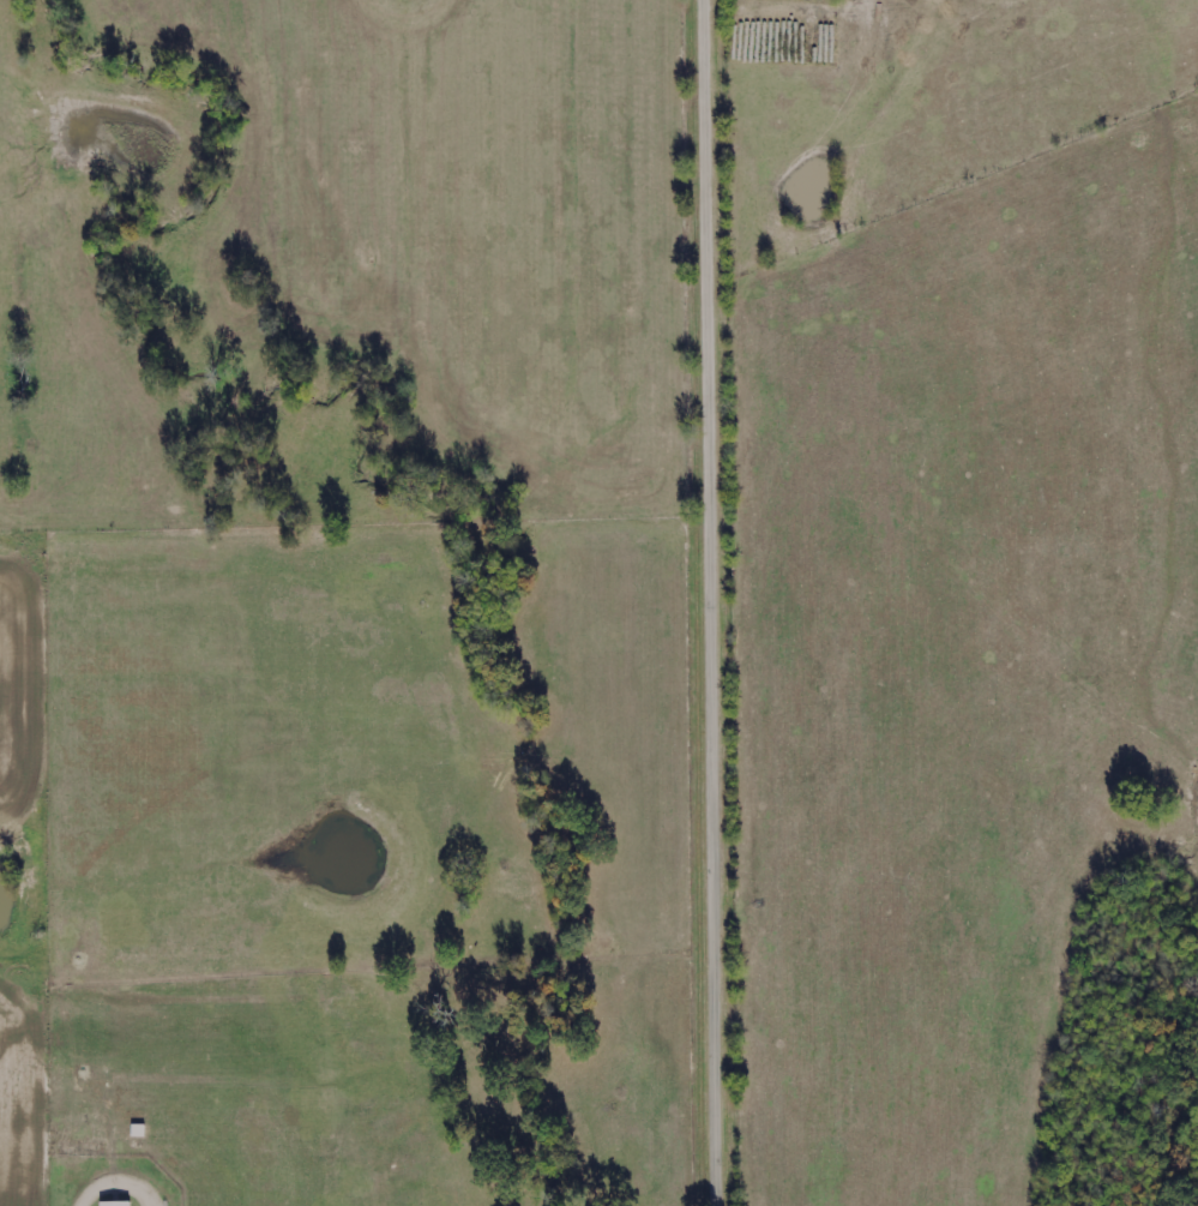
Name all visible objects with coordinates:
road: (720, 602)
building: (115, 1204)

